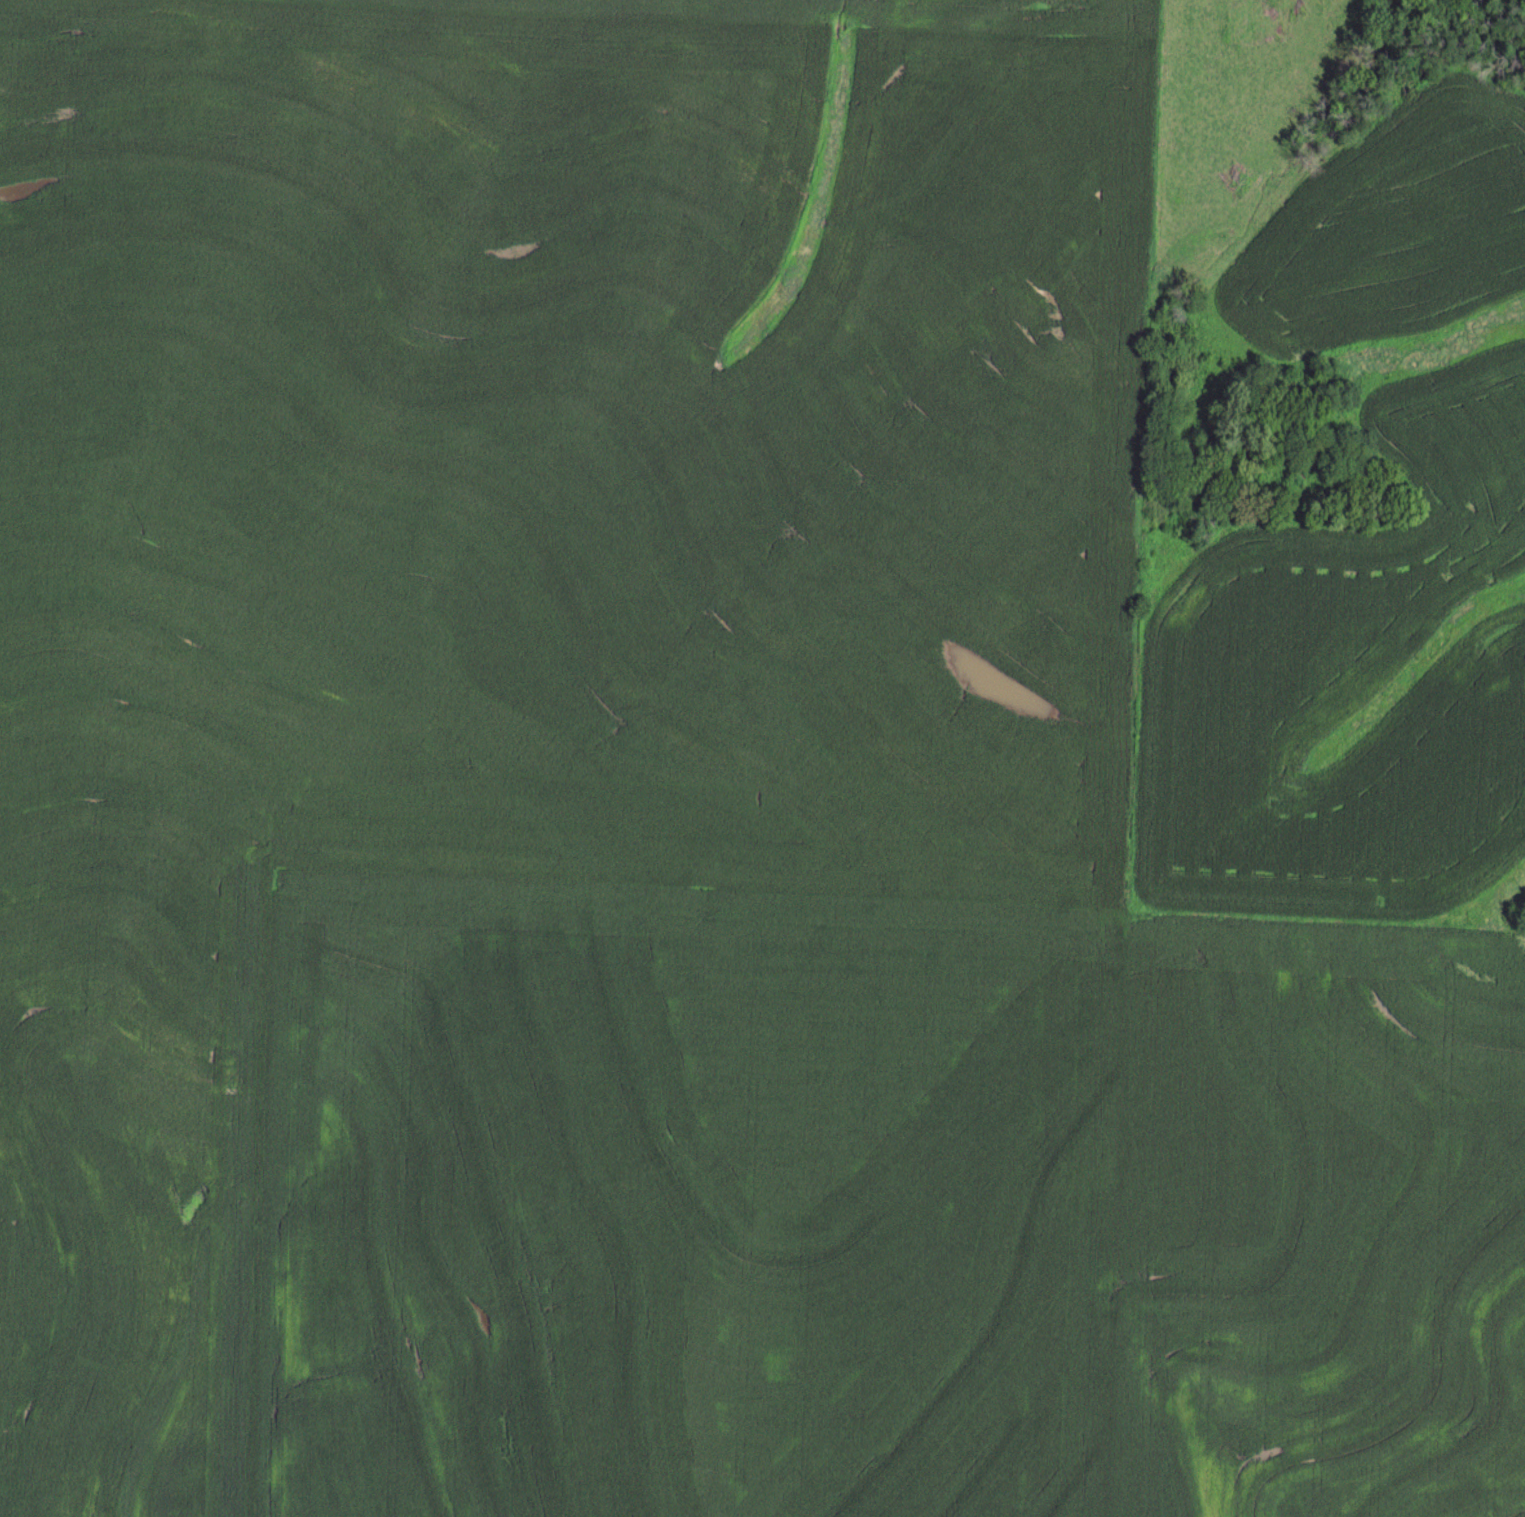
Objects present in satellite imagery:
road: (653, 22)

